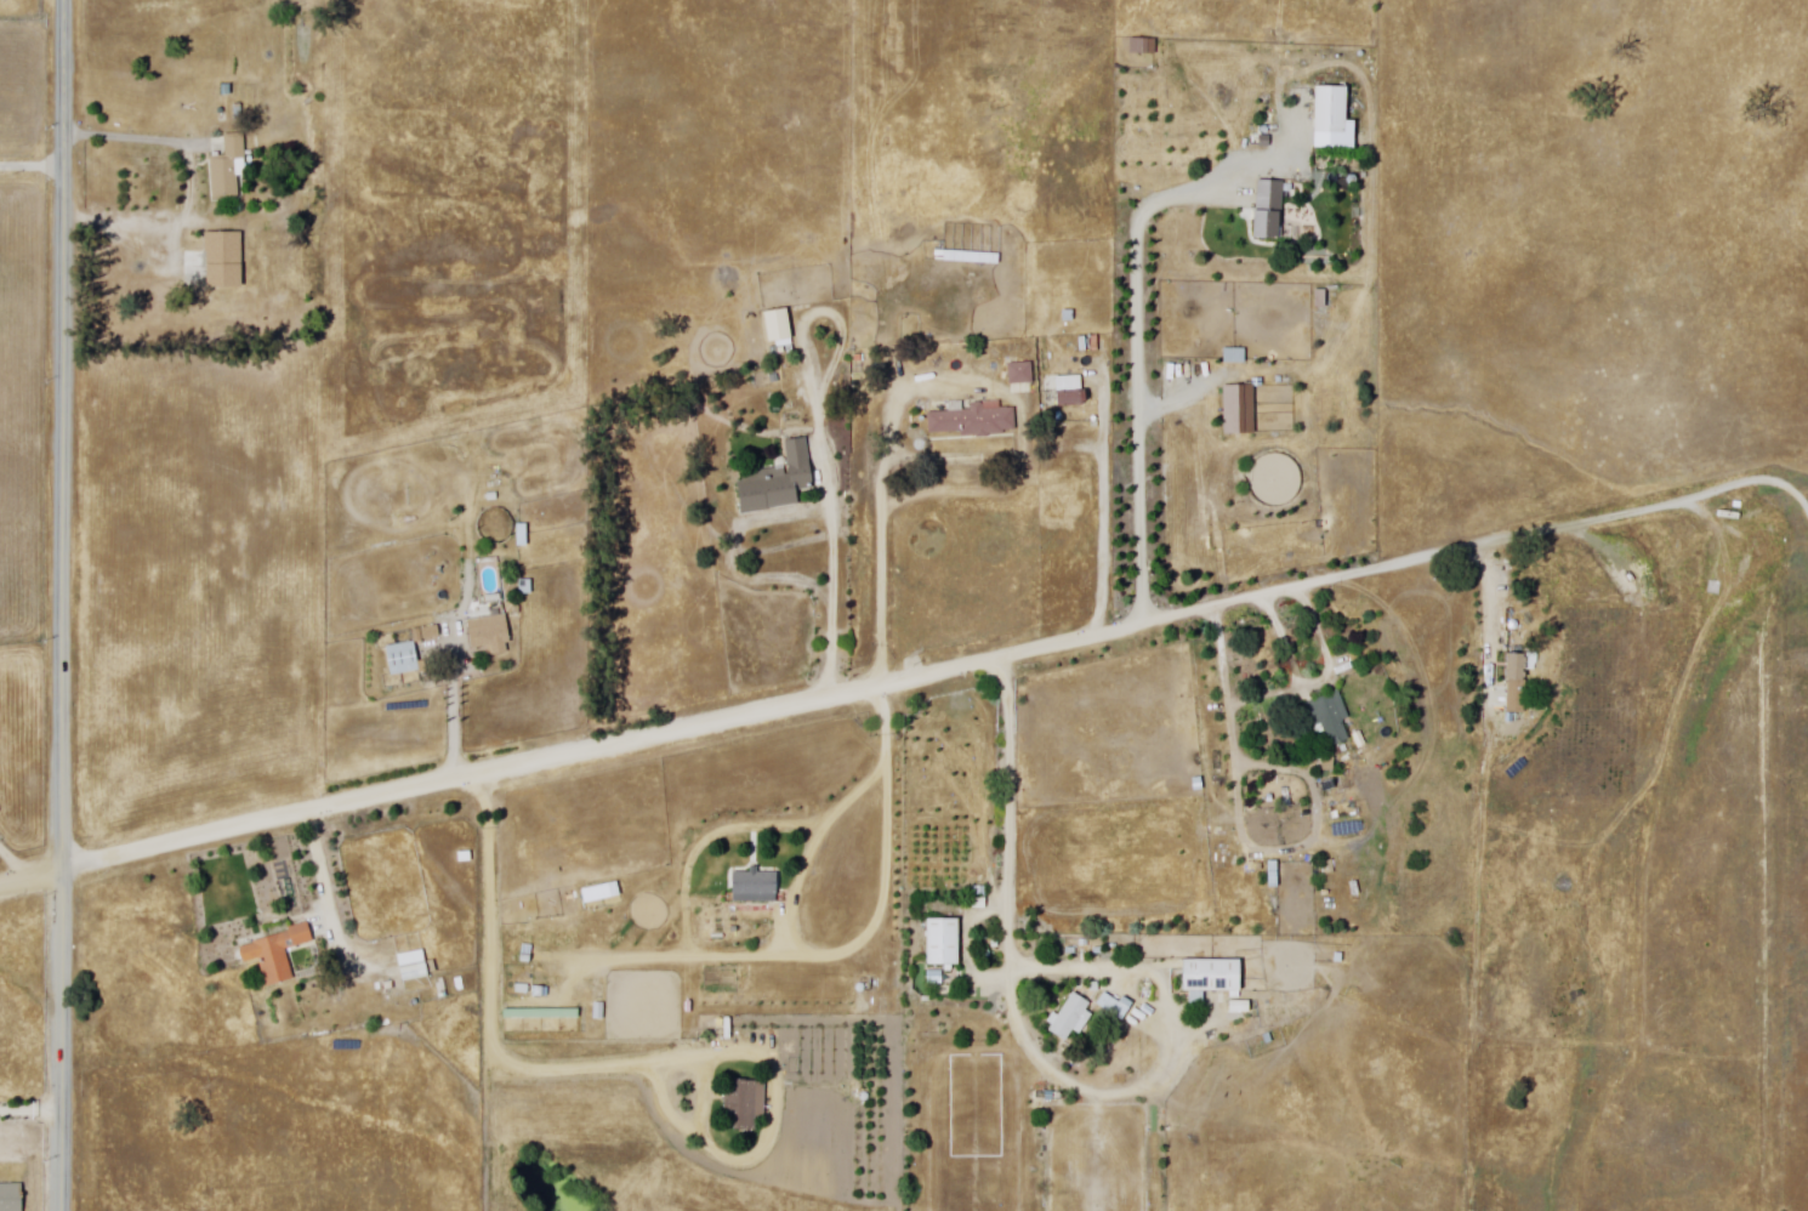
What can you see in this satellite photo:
building: (1330, 109)
road: (130, 137)
building: (229, 165)
building: (1268, 211)
building: (226, 258)
building: (778, 325)
building: (1235, 356)
road: (1141, 368)
building: (1022, 374)
building: (1070, 391)
building: (1240, 409)
building: (976, 421)
building: (777, 483)
road: (1786, 487)
building: (524, 536)
road: (887, 541)
road: (834, 570)
building: (490, 580)
road: (1489, 597)
road: (59, 604)
building: (427, 633)
building: (491, 635)
building: (403, 660)
building: (1519, 683)
road: (880, 684)
road: (1317, 684)
building: (1326, 716)
road: (453, 720)
building: (466, 857)
road: (10, 862)
road: (323, 872)
building: (756, 886)
road: (888, 905)
building: (943, 943)
building: (278, 954)
building: (413, 959)
building: (416, 974)
building: (1212, 979)
building: (461, 984)
building: (390, 987)
road: (495, 997)
building: (1115, 1007)
building: (541, 1014)
building: (1071, 1018)
road: (1031, 1051)
building: (746, 1104)
road: (29, 1111)
building: (11, 1198)

